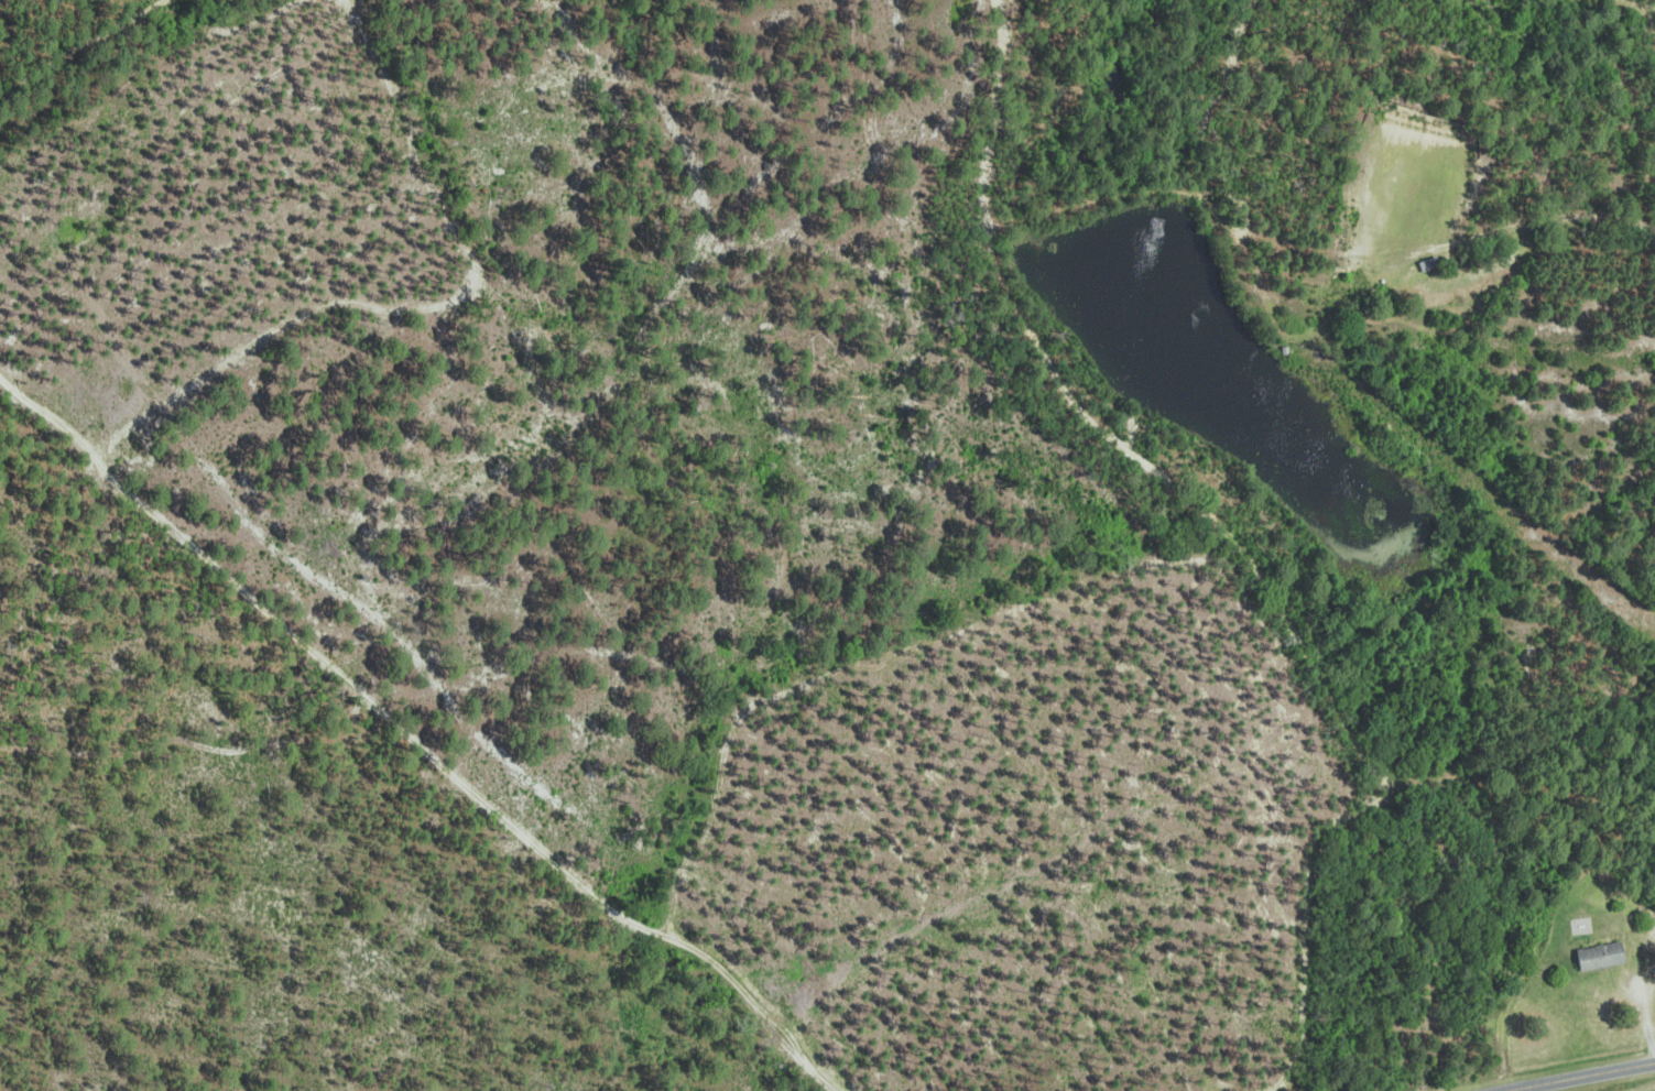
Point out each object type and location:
road: (1548, 217)
building: (1598, 954)
road: (1585, 1077)

